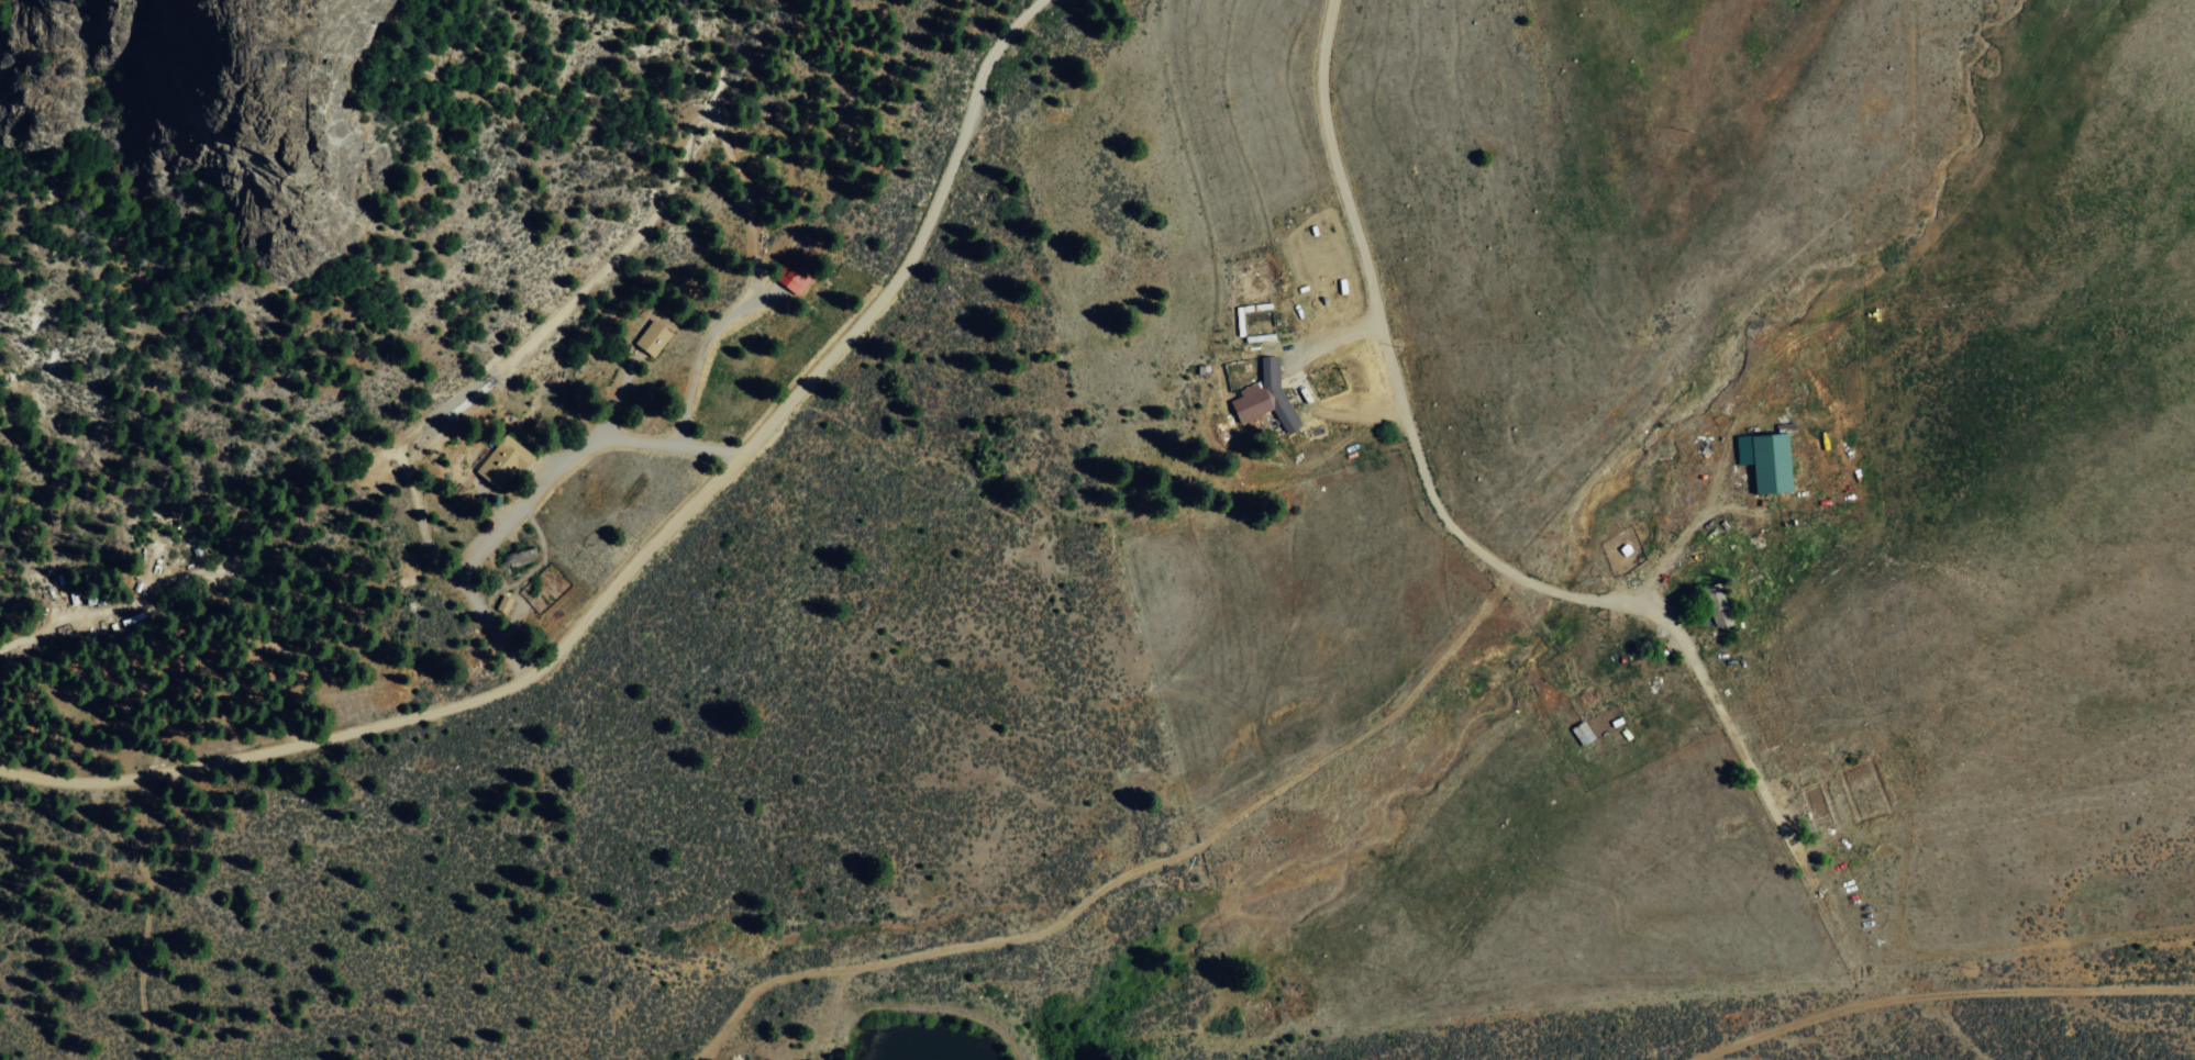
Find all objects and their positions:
building: (790, 277)
building: (650, 337)
building: (1263, 395)
road: (1405, 399)
building: (1763, 459)
building: (499, 461)
road: (633, 558)
building: (501, 603)
crop: (1308, 696)
building: (1579, 732)
road: (2061, 968)

